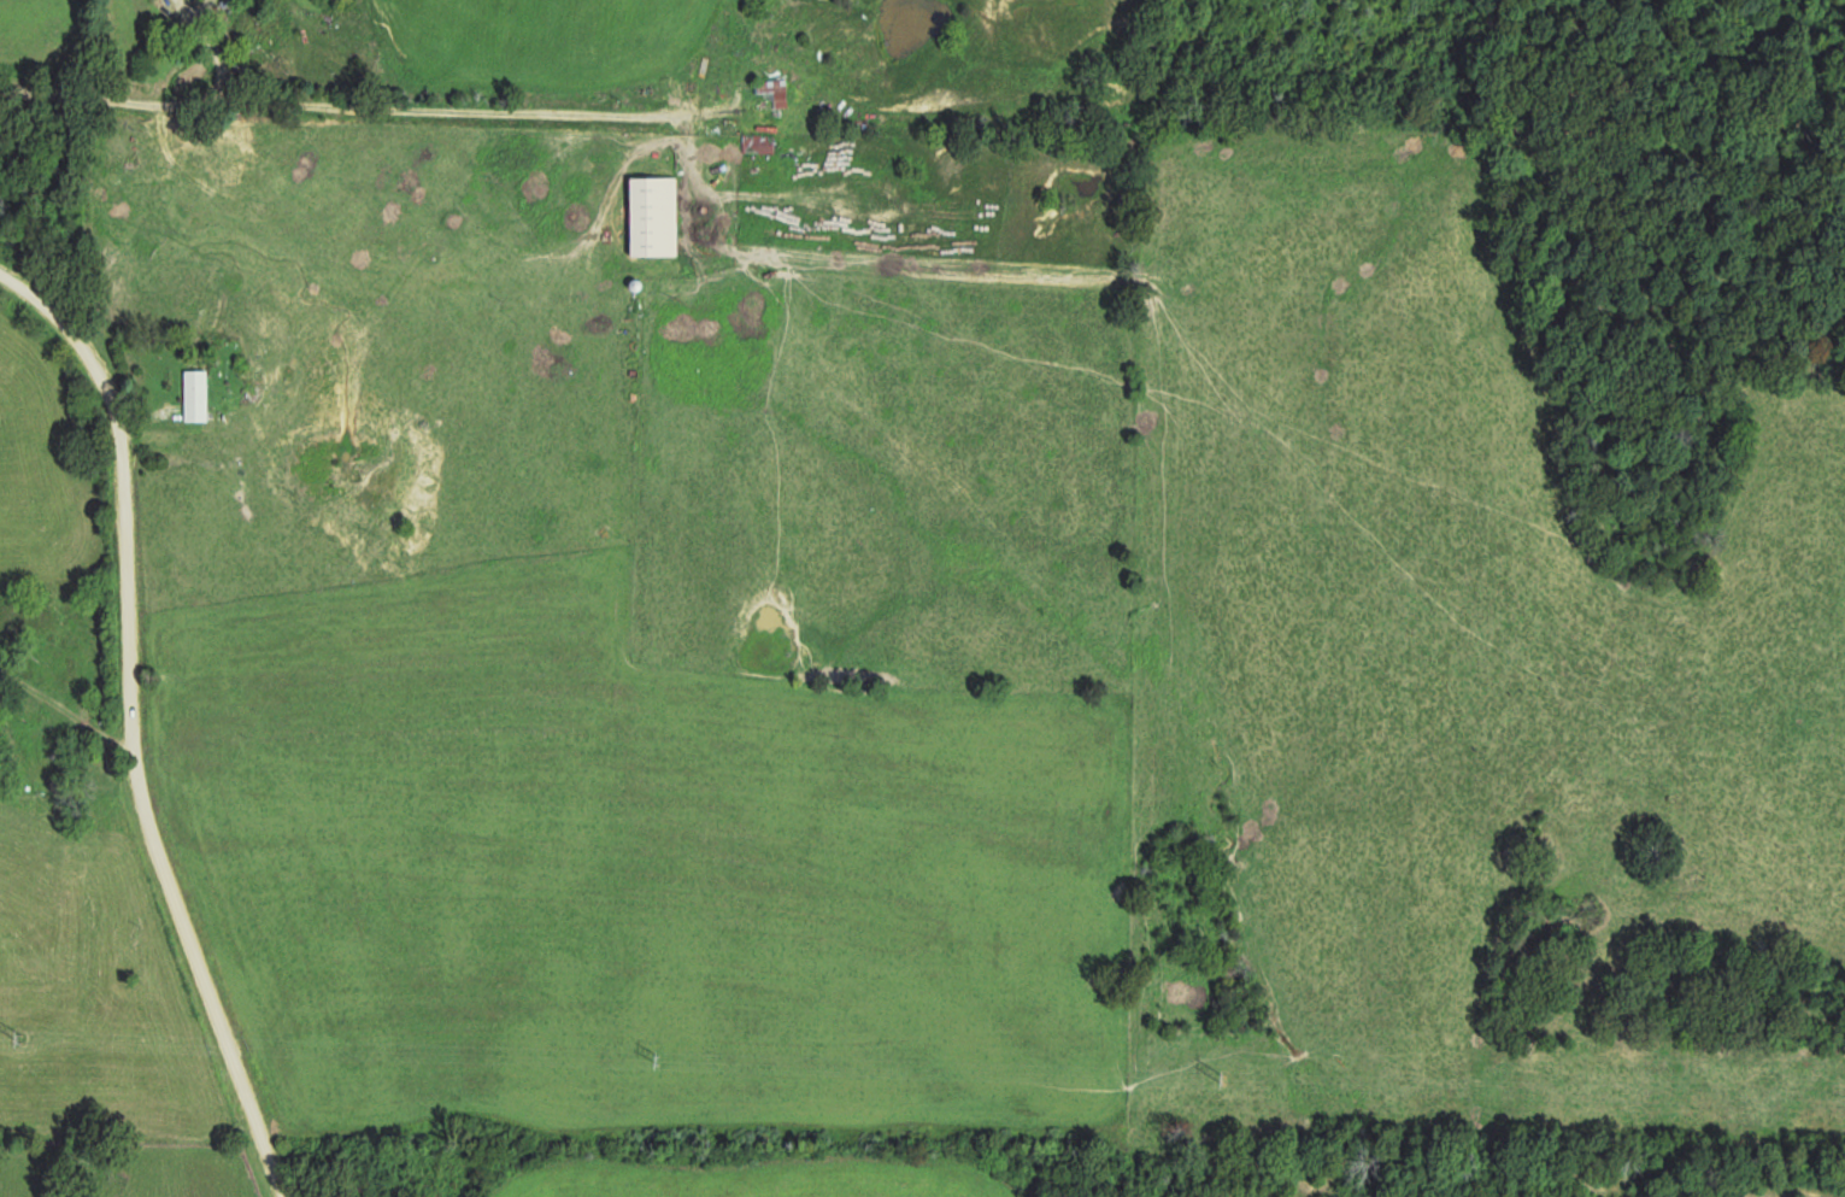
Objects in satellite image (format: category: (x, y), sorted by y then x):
building: (766, 94)
road: (571, 122)
building: (753, 142)
building: (646, 216)
building: (200, 394)
road: (130, 729)

